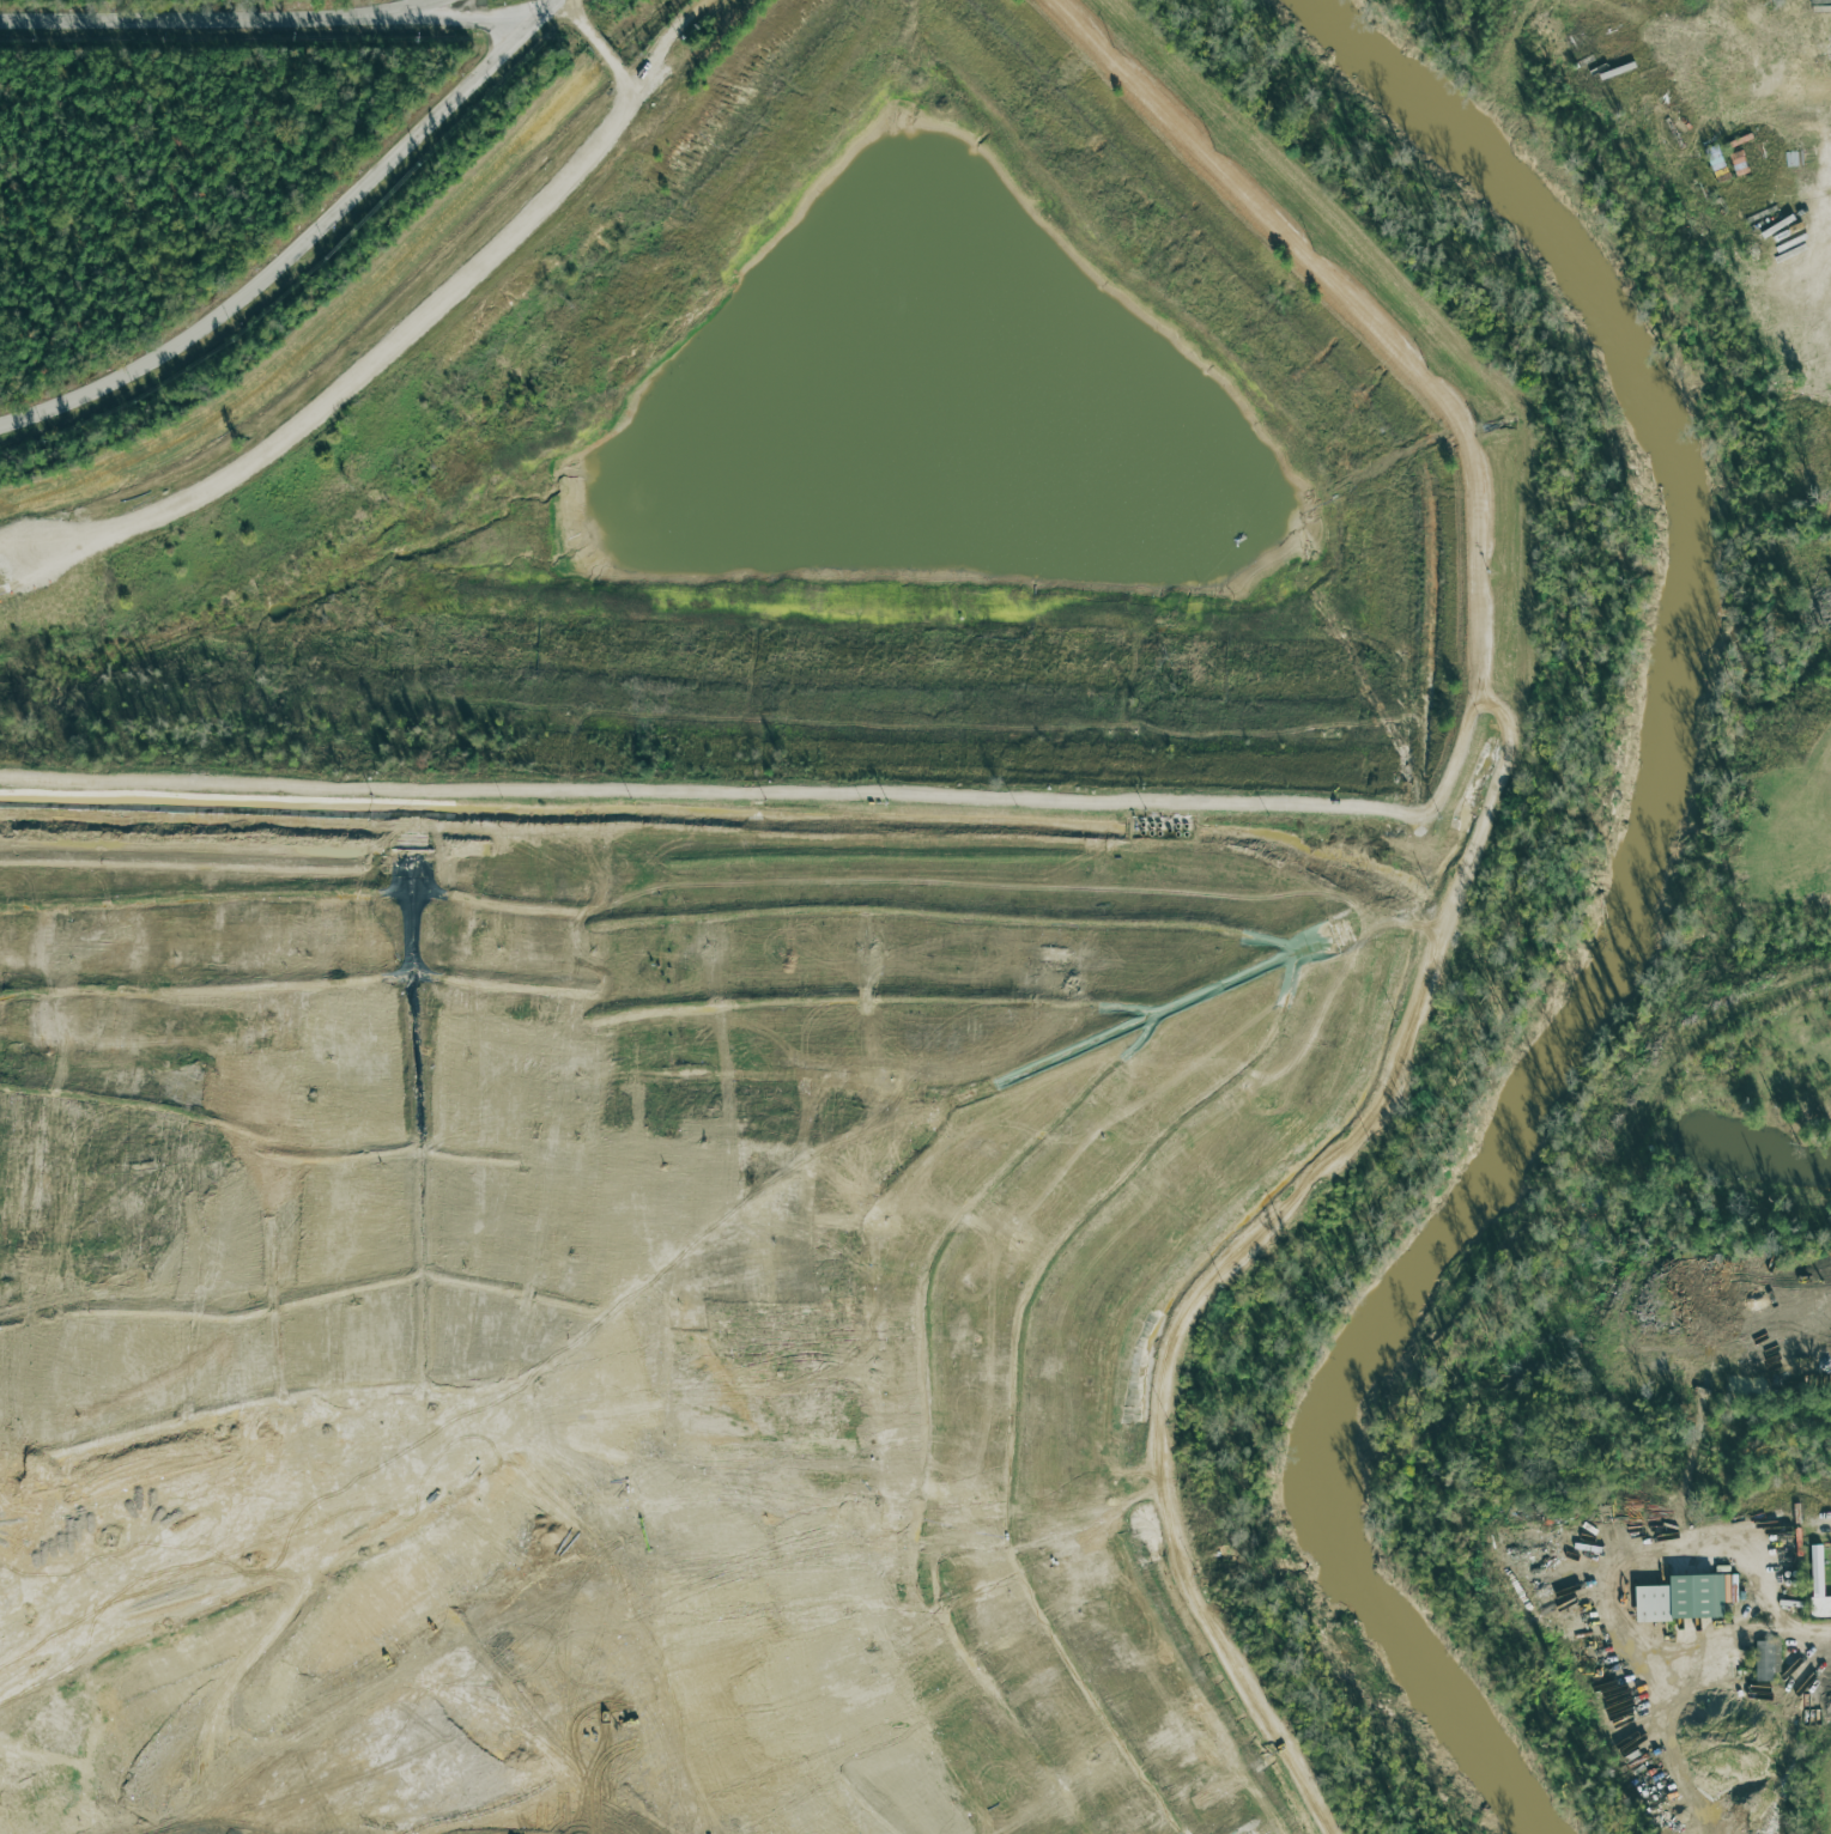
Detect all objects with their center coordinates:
road: (395, 11)
road: (176, 22)
road: (438, 23)
road: (595, 50)
road: (299, 245)
road: (400, 345)
road: (1211, 801)
river: (1631, 924)
road: (1291, 972)
landfill: (651, 1286)
road: (1174, 1337)
road: (1805, 1484)
building: (1815, 1584)
building: (1679, 1598)
building: (1760, 1662)

